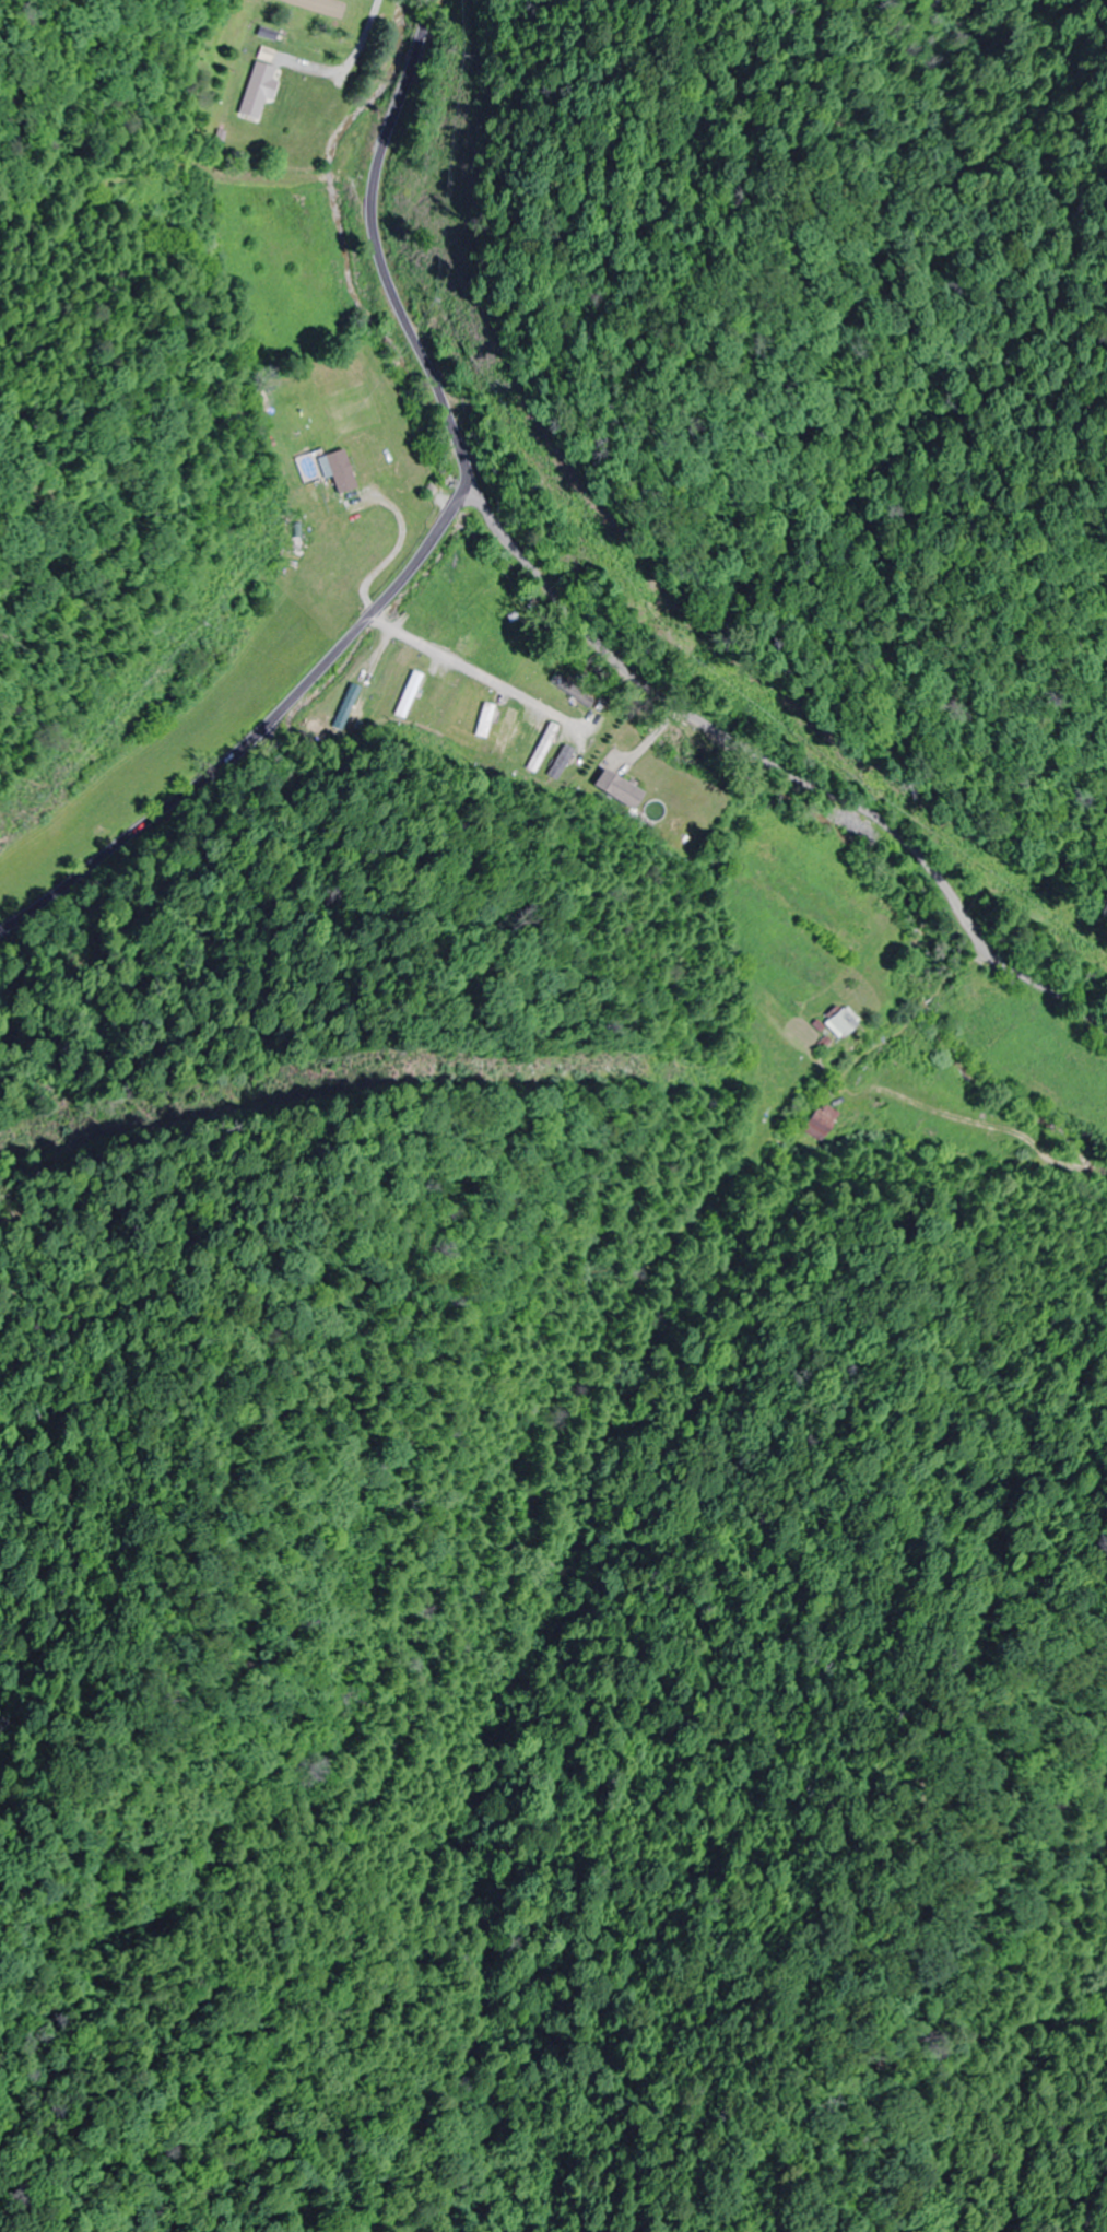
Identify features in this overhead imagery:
building: (260, 92)
road: (378, 247)
road: (278, 303)
building: (494, 645)
building: (386, 688)
building: (410, 694)
building: (351, 704)
building: (485, 721)
road: (257, 730)
road: (786, 766)
building: (840, 1023)
building: (822, 1124)

